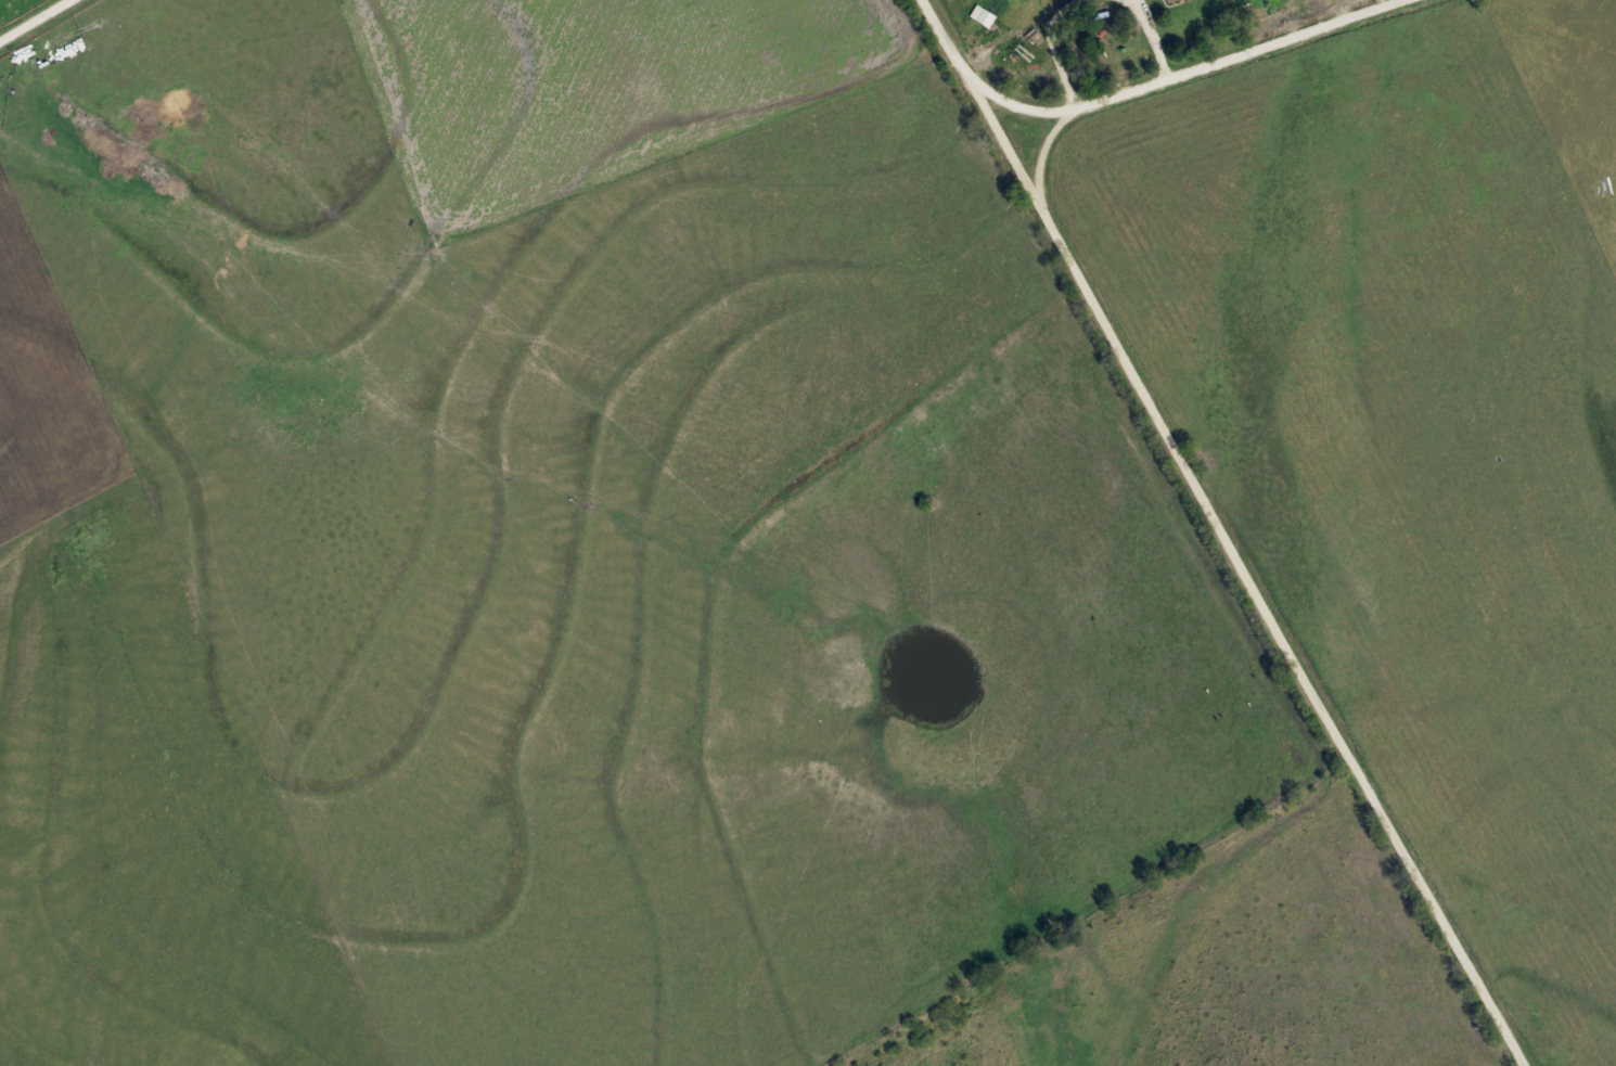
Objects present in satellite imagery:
building: (1171, 1)
building: (983, 15)
road: (33, 18)
road: (948, 37)
road: (1188, 69)
road: (1003, 137)
road: (1257, 587)

